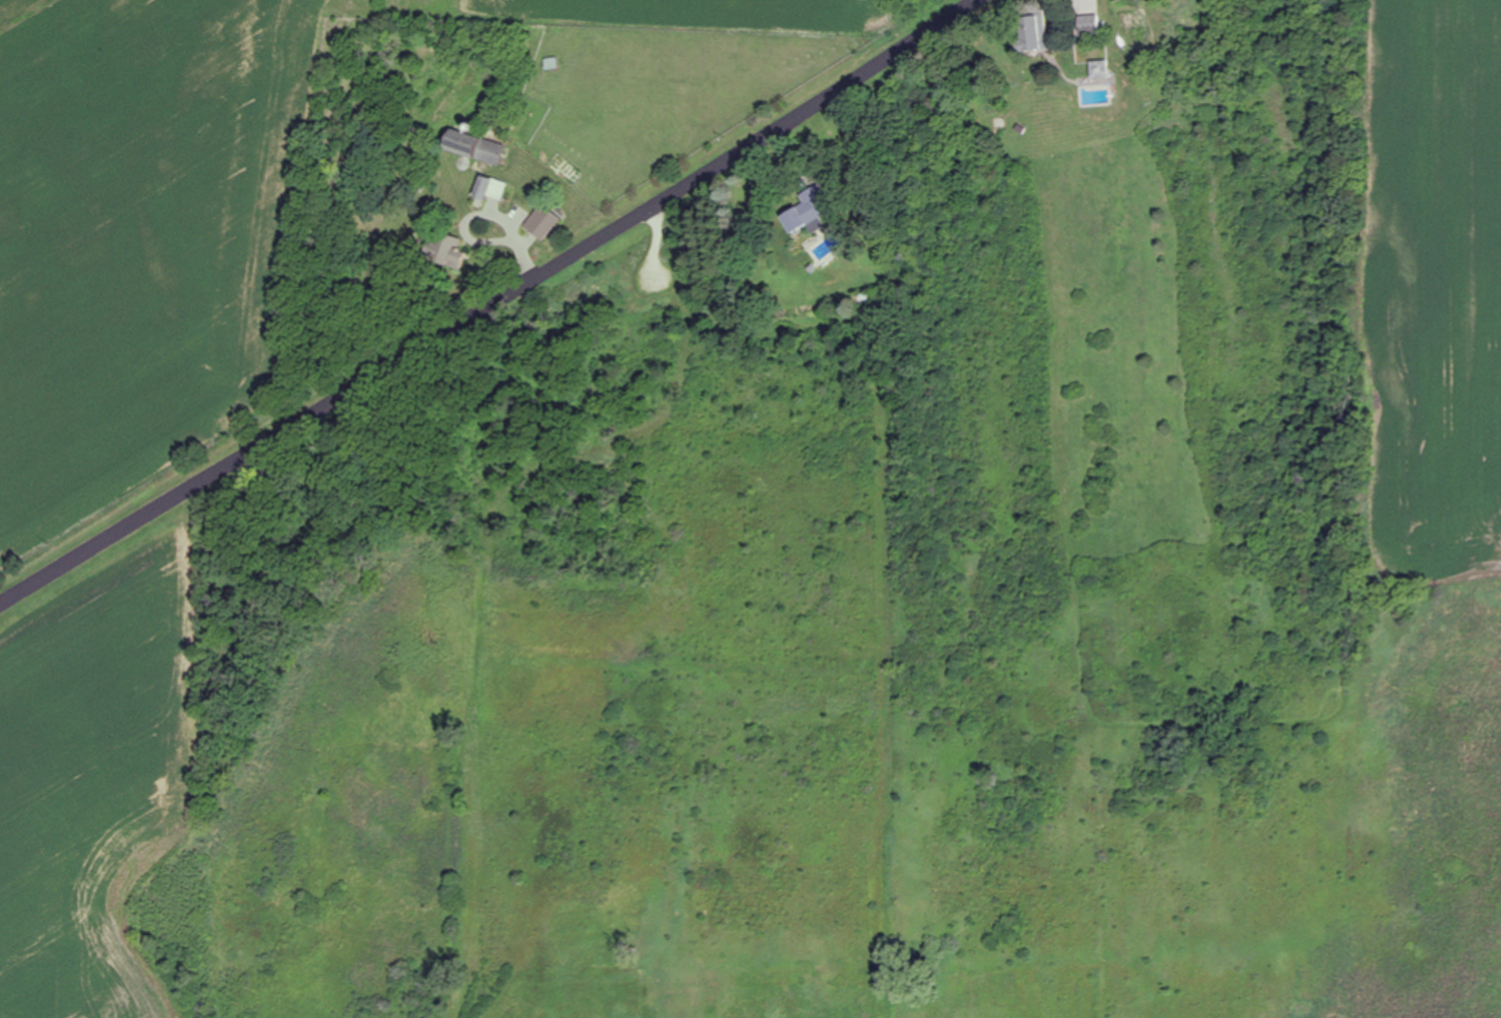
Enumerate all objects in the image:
building: (1115, 0)
building: (1089, 25)
building: (1033, 34)
building: (1100, 70)
building: (475, 146)
building: (490, 188)
building: (805, 210)
building: (544, 222)
building: (453, 247)
road: (491, 306)

